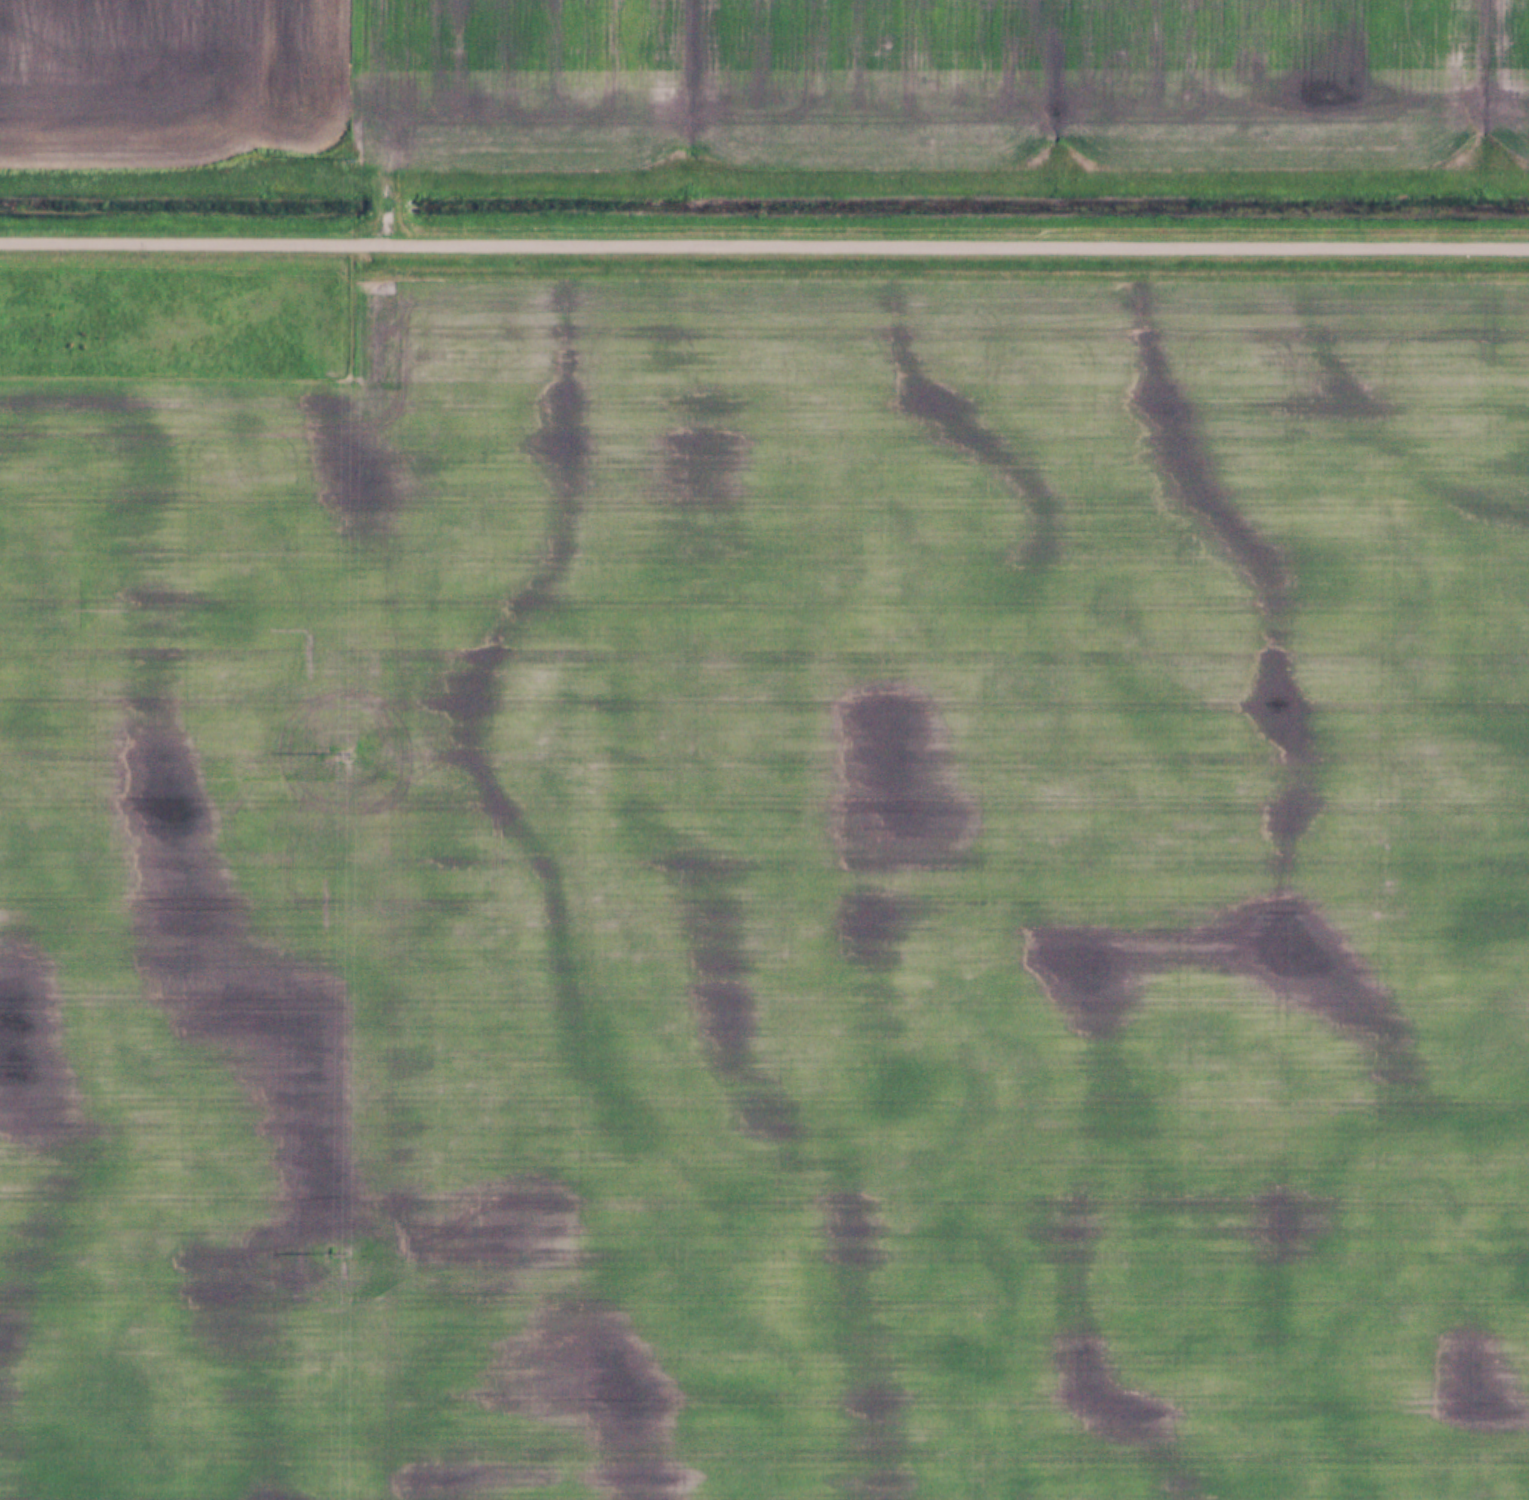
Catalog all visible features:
power tower: (346, 162)
road: (764, 245)
power tower: (338, 755)
power tower: (327, 1254)

